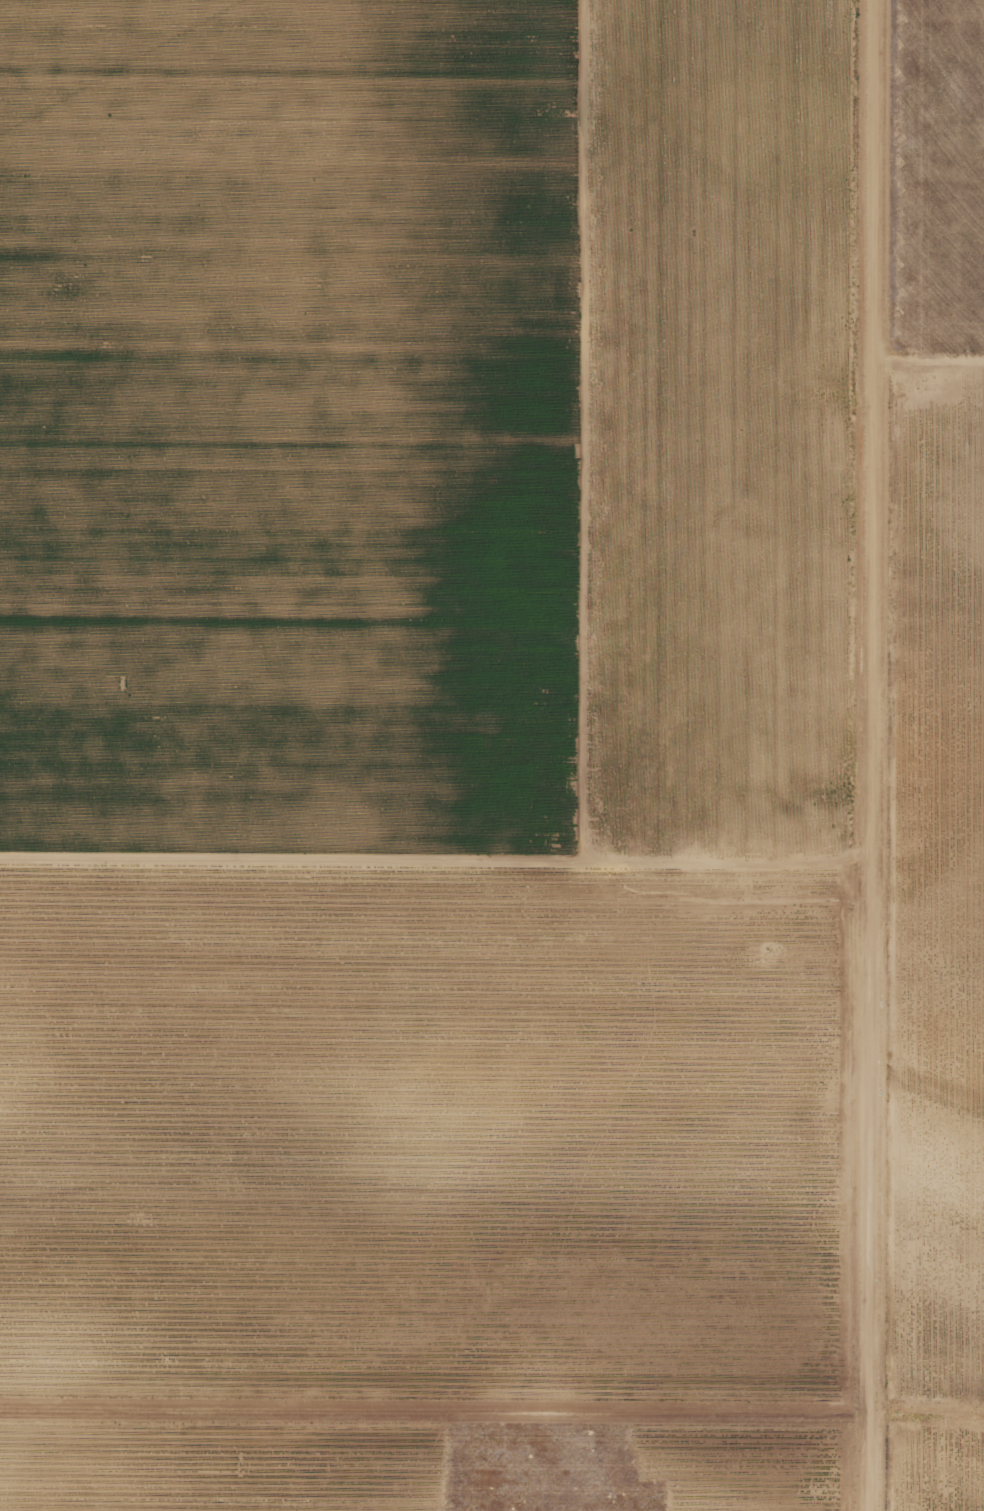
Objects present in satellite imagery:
road: (866, 755)

